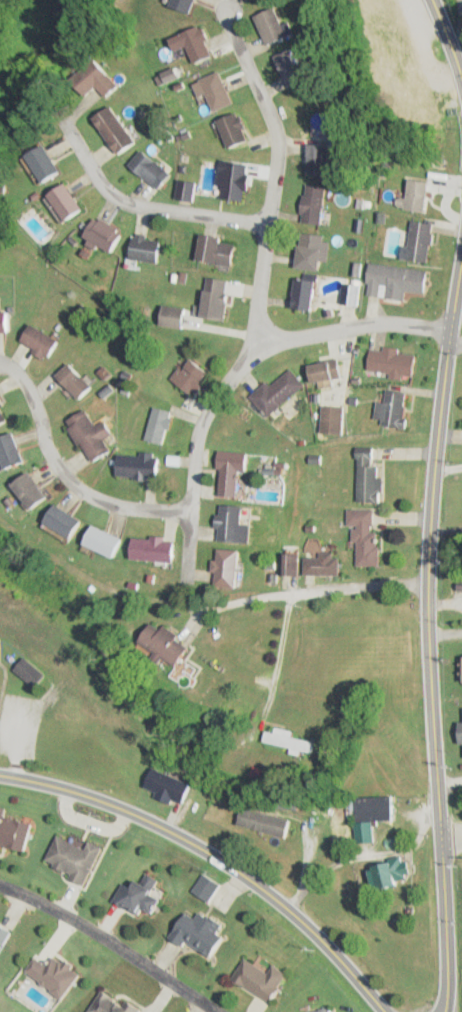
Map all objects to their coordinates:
building: (191, 4)
building: (270, 25)
road: (451, 33)
building: (197, 45)
building: (288, 63)
building: (215, 91)
building: (231, 129)
building: (119, 130)
building: (314, 160)
building: (51, 164)
building: (153, 168)
road: (277, 170)
building: (231, 182)
building: (189, 190)
building: (414, 196)
building: (73, 202)
road: (145, 205)
building: (311, 205)
building: (109, 235)
building: (419, 242)
building: (149, 250)
building: (213, 252)
building: (307, 252)
building: (393, 281)
building: (299, 295)
building: (349, 295)
building: (212, 300)
building: (174, 317)
building: (8, 322)
road: (456, 332)
road: (259, 339)
building: (44, 341)
building: (390, 363)
building: (321, 371)
building: (189, 376)
building: (80, 381)
building: (276, 392)
building: (391, 410)
building: (5, 416)
building: (331, 420)
building: (158, 426)
building: (88, 435)
building: (16, 451)
building: (135, 466)
road: (450, 467)
building: (229, 473)
road: (67, 474)
building: (367, 477)
building: (24, 491)
building: (57, 523)
building: (232, 525)
building: (363, 538)
building: (99, 543)
road: (192, 548)
building: (149, 550)
building: (290, 566)
building: (320, 566)
building: (223, 569)
road: (363, 589)
road: (445, 634)
road: (429, 635)
building: (160, 647)
building: (460, 670)
building: (459, 733)
building: (290, 742)
building: (164, 785)
building: (371, 808)
building: (15, 830)
building: (362, 832)
road: (443, 836)
road: (455, 836)
road: (214, 856)
building: (71, 859)
building: (387, 873)
building: (204, 887)
building: (139, 895)
building: (4, 932)
road: (87, 932)
building: (197, 934)
building: (59, 974)
building: (258, 979)
road: (194, 997)
building: (115, 1002)

